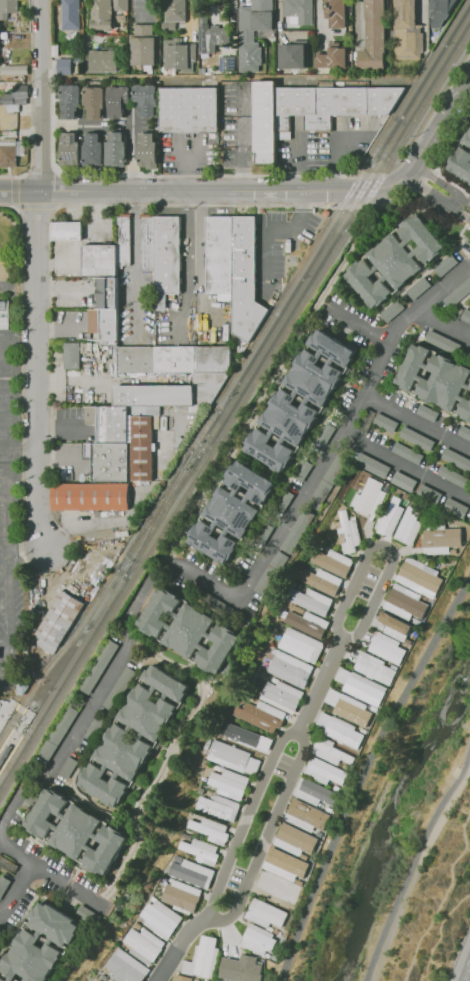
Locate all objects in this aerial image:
building: (119, 5)
building: (8, 8)
building: (175, 10)
building: (303, 12)
building: (440, 12)
building: (337, 13)
building: (69, 14)
building: (101, 14)
building: (252, 32)
building: (407, 32)
building: (210, 36)
building: (373, 36)
building: (143, 46)
building: (294, 54)
building: (178, 56)
building: (332, 59)
building: (101, 60)
building: (226, 62)
building: (63, 66)
building: (12, 69)
building: (14, 95)
road: (41, 95)
building: (145, 99)
road: (29, 100)
building: (116, 100)
building: (69, 101)
building: (94, 101)
building: (335, 103)
building: (189, 109)
building: (266, 122)
road: (69, 124)
road: (435, 128)
building: (467, 137)
building: (69, 149)
building: (91, 149)
road: (130, 149)
road: (333, 149)
building: (114, 150)
building: (146, 150)
building: (7, 151)
road: (238, 154)
road: (293, 160)
building: (461, 163)
road: (180, 166)
road: (116, 175)
road: (441, 184)
road: (199, 188)
road: (436, 197)
road: (289, 205)
road: (17, 207)
building: (324, 213)
railway: (328, 225)
building: (66, 230)
railway: (334, 235)
building: (422, 237)
building: (123, 240)
building: (162, 252)
road: (134, 256)
road: (186, 256)
building: (99, 260)
building: (394, 261)
building: (446, 265)
building: (234, 269)
building: (367, 284)
building: (420, 288)
building: (106, 292)
building: (457, 294)
building: (3, 311)
building: (392, 311)
building: (466, 315)
road: (442, 320)
building: (103, 323)
road: (365, 329)
road: (58, 331)
building: (443, 341)
building: (332, 348)
park: (4, 356)
building: (72, 356)
building: (413, 367)
road: (37, 370)
road: (19, 371)
building: (316, 378)
building: (209, 379)
road: (64, 380)
building: (444, 381)
building: (469, 389)
park: (5, 397)
building: (465, 409)
building: (427, 412)
railway: (235, 413)
building: (291, 417)
road: (414, 420)
building: (108, 422)
building: (384, 422)
building: (325, 431)
building: (464, 432)
park: (4, 434)
building: (416, 438)
building: (140, 448)
building: (271, 452)
building: (407, 452)
building: (456, 457)
building: (109, 459)
road: (404, 463)
building: (372, 465)
road: (4, 470)
building: (302, 470)
building: (453, 476)
building: (327, 479)
building: (250, 481)
building: (404, 481)
building: (429, 494)
building: (368, 497)
building: (89, 499)
building: (284, 500)
road: (4, 505)
building: (455, 508)
railway: (154, 510)
railway: (158, 511)
building: (231, 511)
railway: (158, 512)
railway: (162, 514)
building: (388, 515)
building: (407, 524)
building: (296, 530)
building: (265, 532)
building: (344, 534)
road: (5, 539)
building: (442, 540)
building: (212, 542)
road: (10, 555)
building: (329, 563)
road: (5, 573)
building: (271, 577)
building: (419, 579)
building: (318, 583)
road: (242, 593)
road: (375, 594)
building: (308, 601)
building: (406, 602)
building: (220, 604)
road: (6, 608)
building: (159, 612)
building: (58, 621)
building: (393, 622)
building: (304, 625)
building: (189, 630)
road: (5, 641)
railway: (66, 645)
building: (299, 648)
building: (386, 649)
building: (219, 650)
railway: (74, 657)
road: (9, 662)
building: (97, 665)
building: (374, 668)
building: (289, 670)
building: (168, 683)
building: (23, 685)
building: (121, 687)
building: (365, 691)
building: (279, 696)
road: (18, 706)
road: (6, 713)
building: (353, 713)
building: (149, 714)
building: (257, 717)
road: (25, 719)
building: (97, 723)
building: (59, 731)
railway: (6, 732)
building: (344, 733)
building: (244, 736)
railway: (20, 737)
road: (298, 738)
building: (125, 752)
building: (333, 754)
building: (228, 755)
railway: (11, 761)
building: (68, 768)
building: (328, 771)
road: (363, 772)
building: (227, 783)
building: (104, 785)
building: (321, 792)
building: (215, 808)
building: (47, 813)
building: (308, 813)
building: (206, 830)
building: (77, 832)
building: (297, 837)
building: (107, 850)
building: (196, 852)
road: (414, 862)
building: (287, 863)
building: (7, 864)
road: (52, 875)
building: (185, 875)
building: (3, 885)
road: (17, 887)
building: (276, 889)
road: (441, 895)
building: (179, 898)
building: (266, 911)
building: (87, 914)
building: (158, 918)
building: (53, 923)
building: (259, 939)
road: (174, 946)
building: (141, 947)
building: (206, 955)
building: (31, 958)
building: (123, 968)
building: (242, 969)
building: (181, 978)
building: (1, 980)
building: (95, 980)
building: (107, 980)
building: (204, 980)

